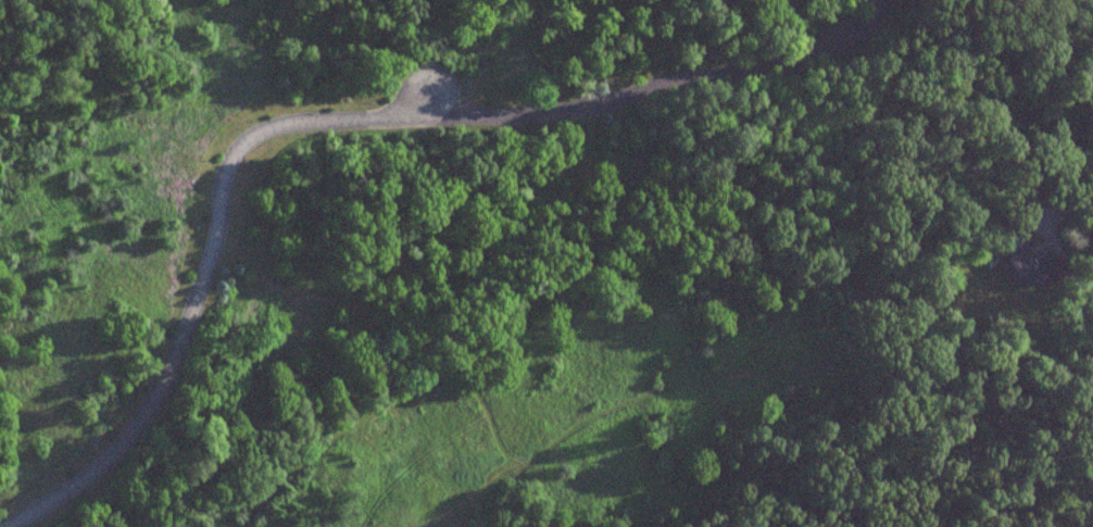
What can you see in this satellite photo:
road: (750, 67)
road: (222, 190)
road: (1077, 213)
building: (1022, 260)

